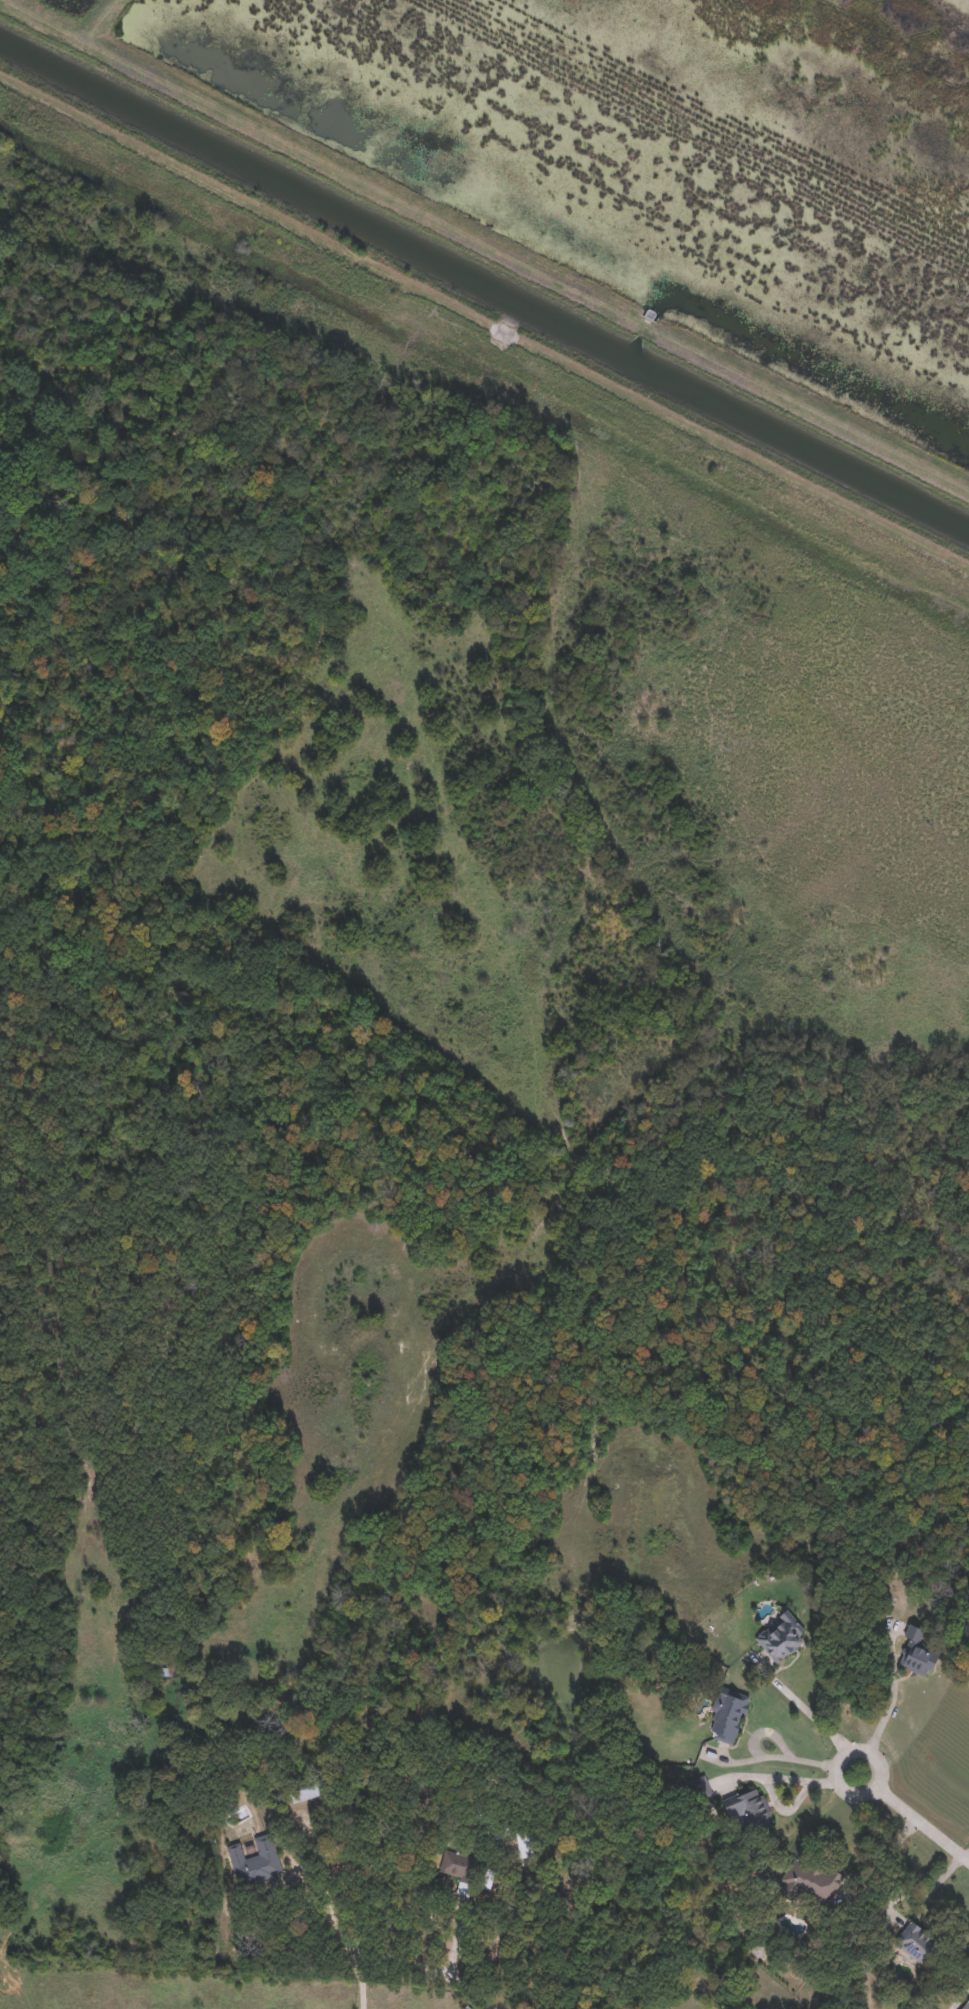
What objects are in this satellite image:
building: (782, 1636)
building: (915, 1653)
road: (891, 1696)
road: (811, 1712)
building: (726, 1717)
road: (785, 1756)
road: (839, 1756)
road: (881, 1766)
building: (309, 1786)
building: (705, 1790)
road: (854, 1797)
building: (750, 1809)
building: (495, 1824)
road: (923, 1826)
building: (525, 1843)
road: (881, 1857)
building: (256, 1860)
building: (460, 1868)
building: (812, 1878)
road: (330, 1899)
building: (918, 1944)
road: (386, 1952)
road: (483, 1999)
road: (959, 1999)
building: (966, 2005)

